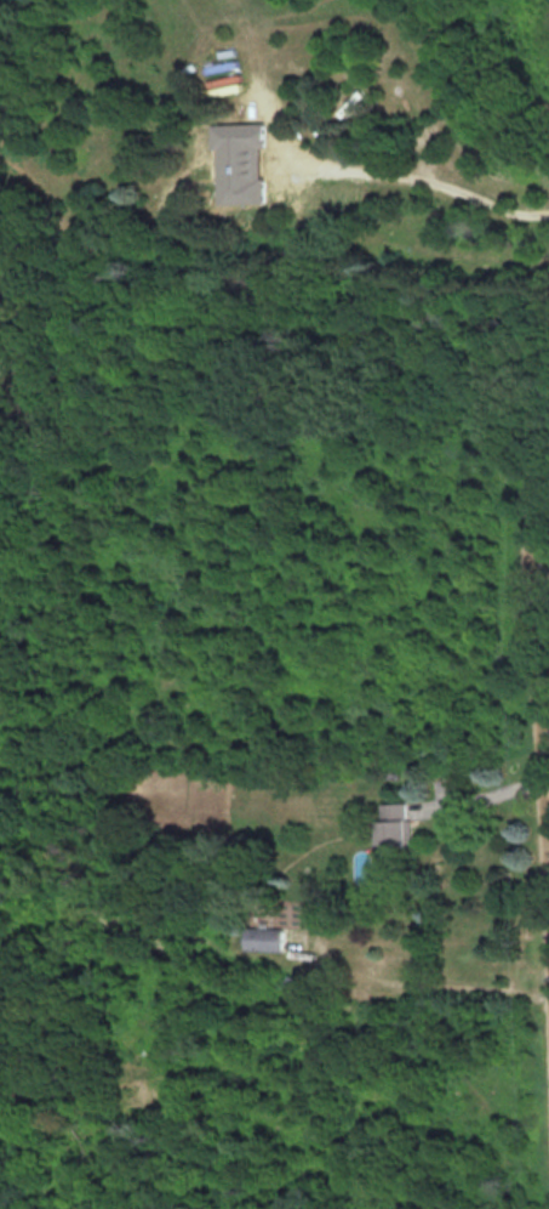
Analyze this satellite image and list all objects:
road: (413, 177)
road: (538, 579)
road: (534, 692)
road: (543, 734)
road: (544, 782)
road: (477, 795)
building: (399, 823)
building: (268, 938)

